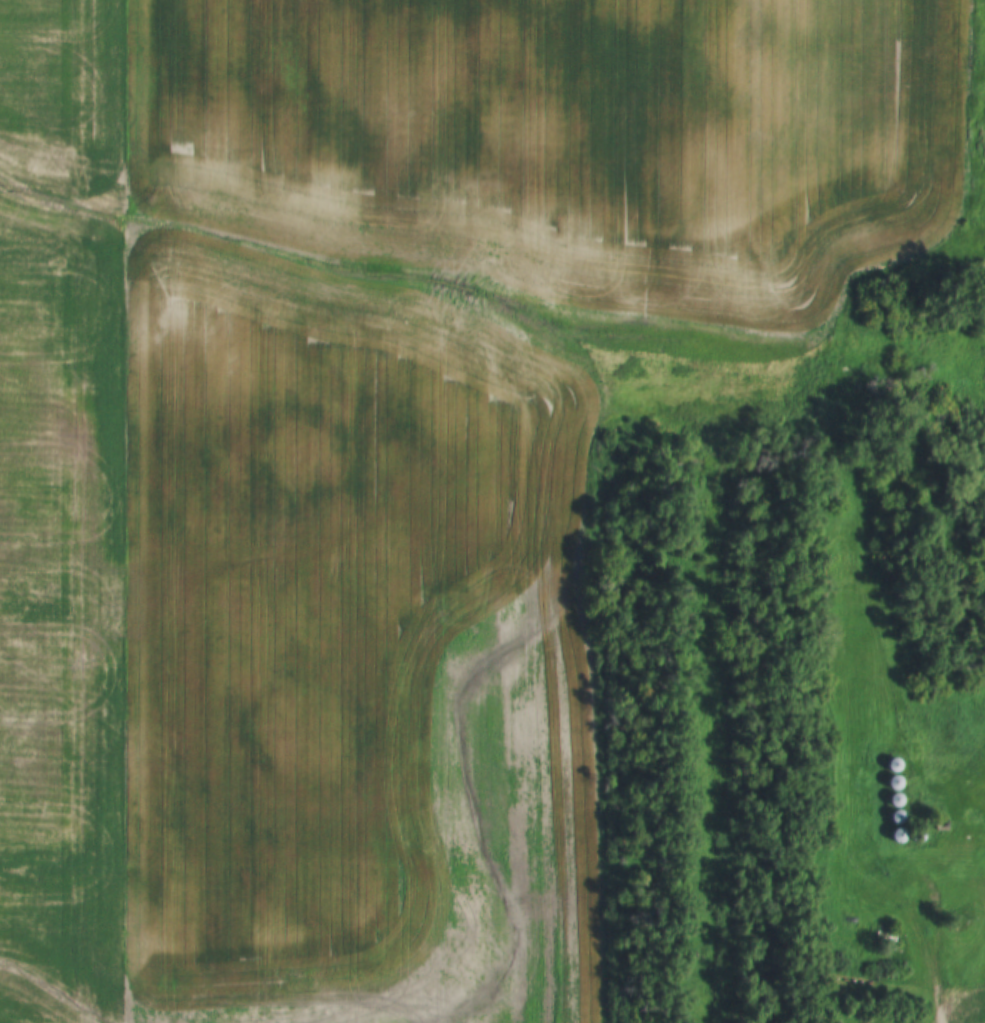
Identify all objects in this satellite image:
road: (931, 941)

